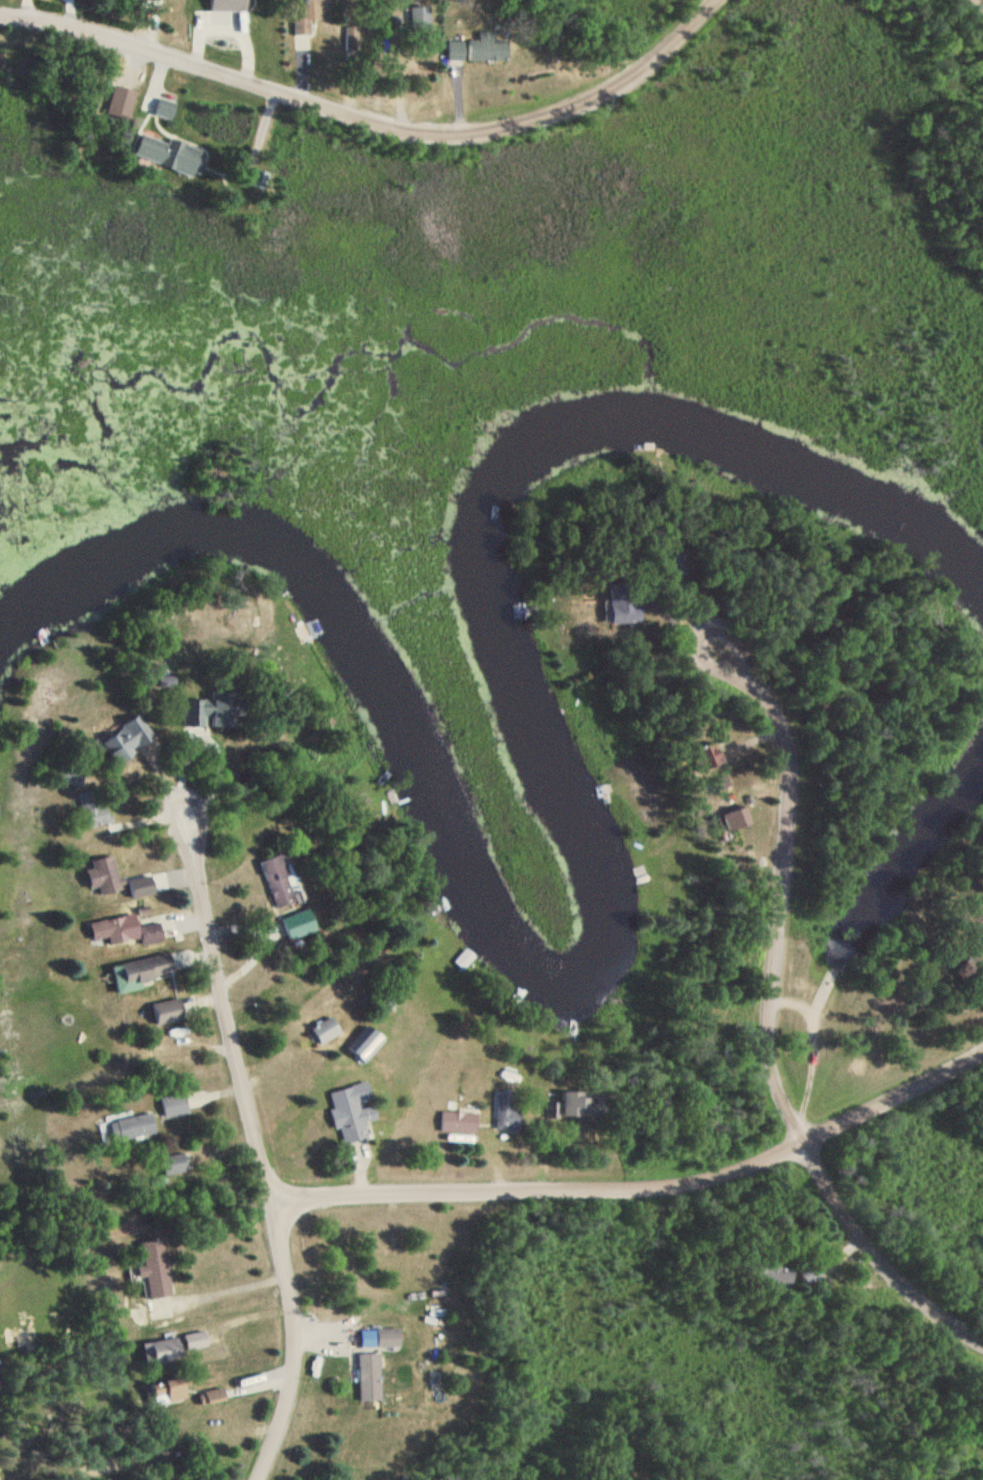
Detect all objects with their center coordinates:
building: (228, 4)
building: (420, 15)
building: (307, 17)
building: (456, 49)
building: (489, 49)
building: (164, 109)
road: (371, 118)
building: (152, 149)
building: (215, 711)
building: (128, 740)
building: (71, 778)
building: (90, 809)
building: (101, 874)
building: (279, 881)
building: (976, 922)
building: (299, 924)
building: (110, 930)
building: (150, 934)
building: (464, 959)
building: (143, 972)
road: (770, 1002)
building: (168, 1012)
building: (326, 1030)
building: (365, 1043)
road: (793, 1077)
building: (583, 1105)
building: (174, 1106)
building: (352, 1112)
building: (506, 1112)
building: (459, 1122)
road: (254, 1128)
building: (127, 1129)
building: (174, 1165)
road: (642, 1188)
building: (155, 1269)
building: (776, 1277)
building: (812, 1277)
building: (388, 1338)
building: (196, 1341)
building: (162, 1352)
building: (369, 1378)
building: (170, 1391)
building: (213, 1396)

